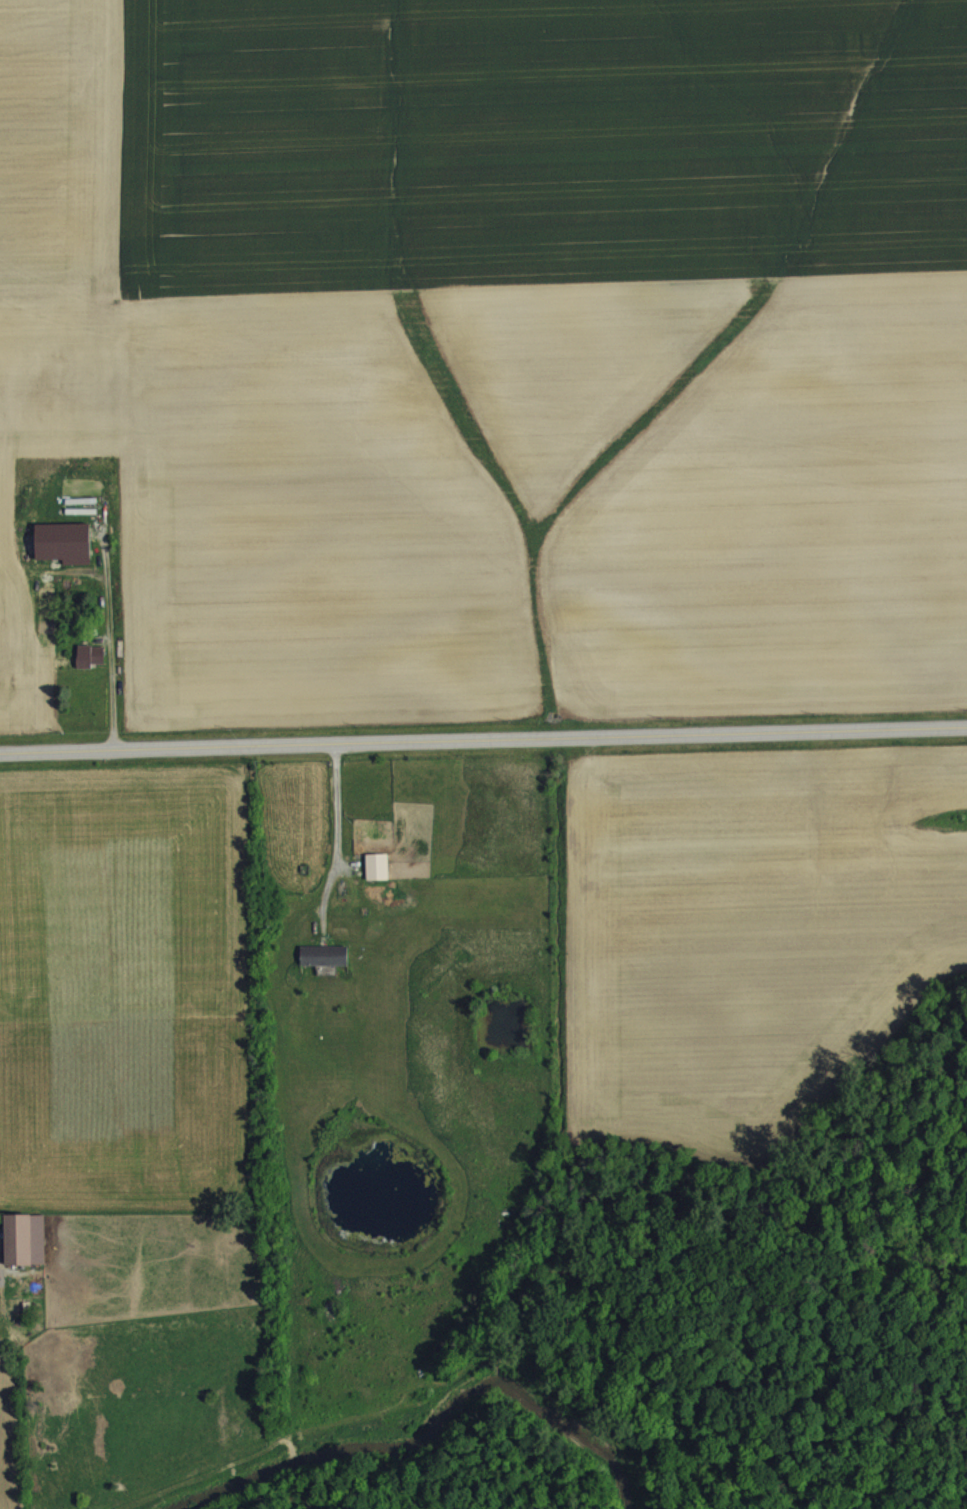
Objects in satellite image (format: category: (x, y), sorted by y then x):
building: (64, 555)
building: (90, 668)
road: (111, 694)
road: (483, 739)
road: (337, 842)
building: (377, 879)
building: (324, 968)
building: (24, 1251)

